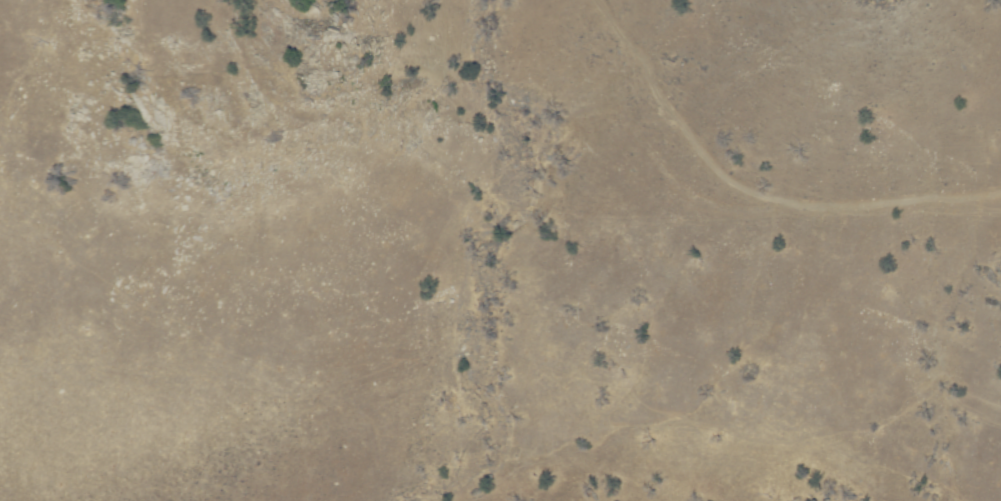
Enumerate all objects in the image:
road: (752, 197)

